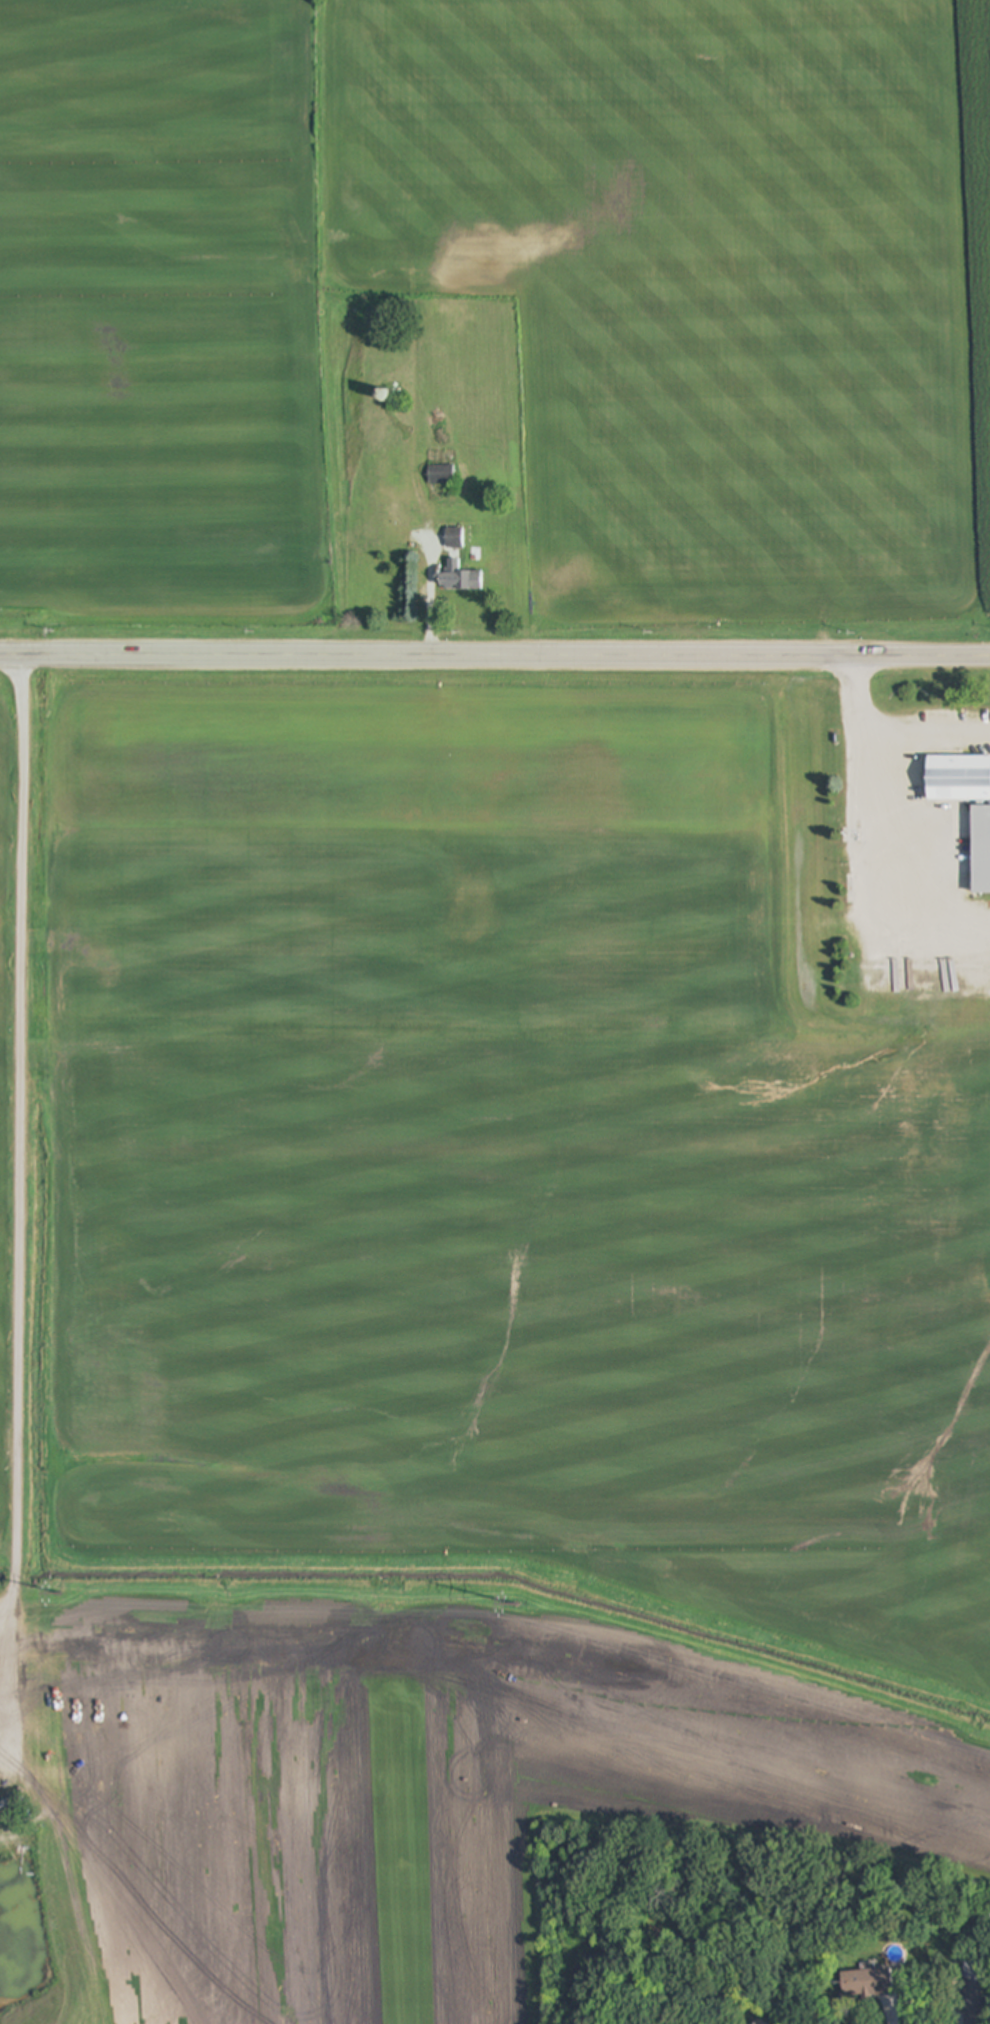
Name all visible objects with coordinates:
building: (440, 474)
building: (454, 538)
building: (458, 578)
road: (494, 656)
road: (886, 732)
building: (959, 779)
building: (981, 850)
road: (867, 880)
power tower: (59, 1592)
power tower: (517, 1604)
building: (859, 1984)
building: (974, 1993)

